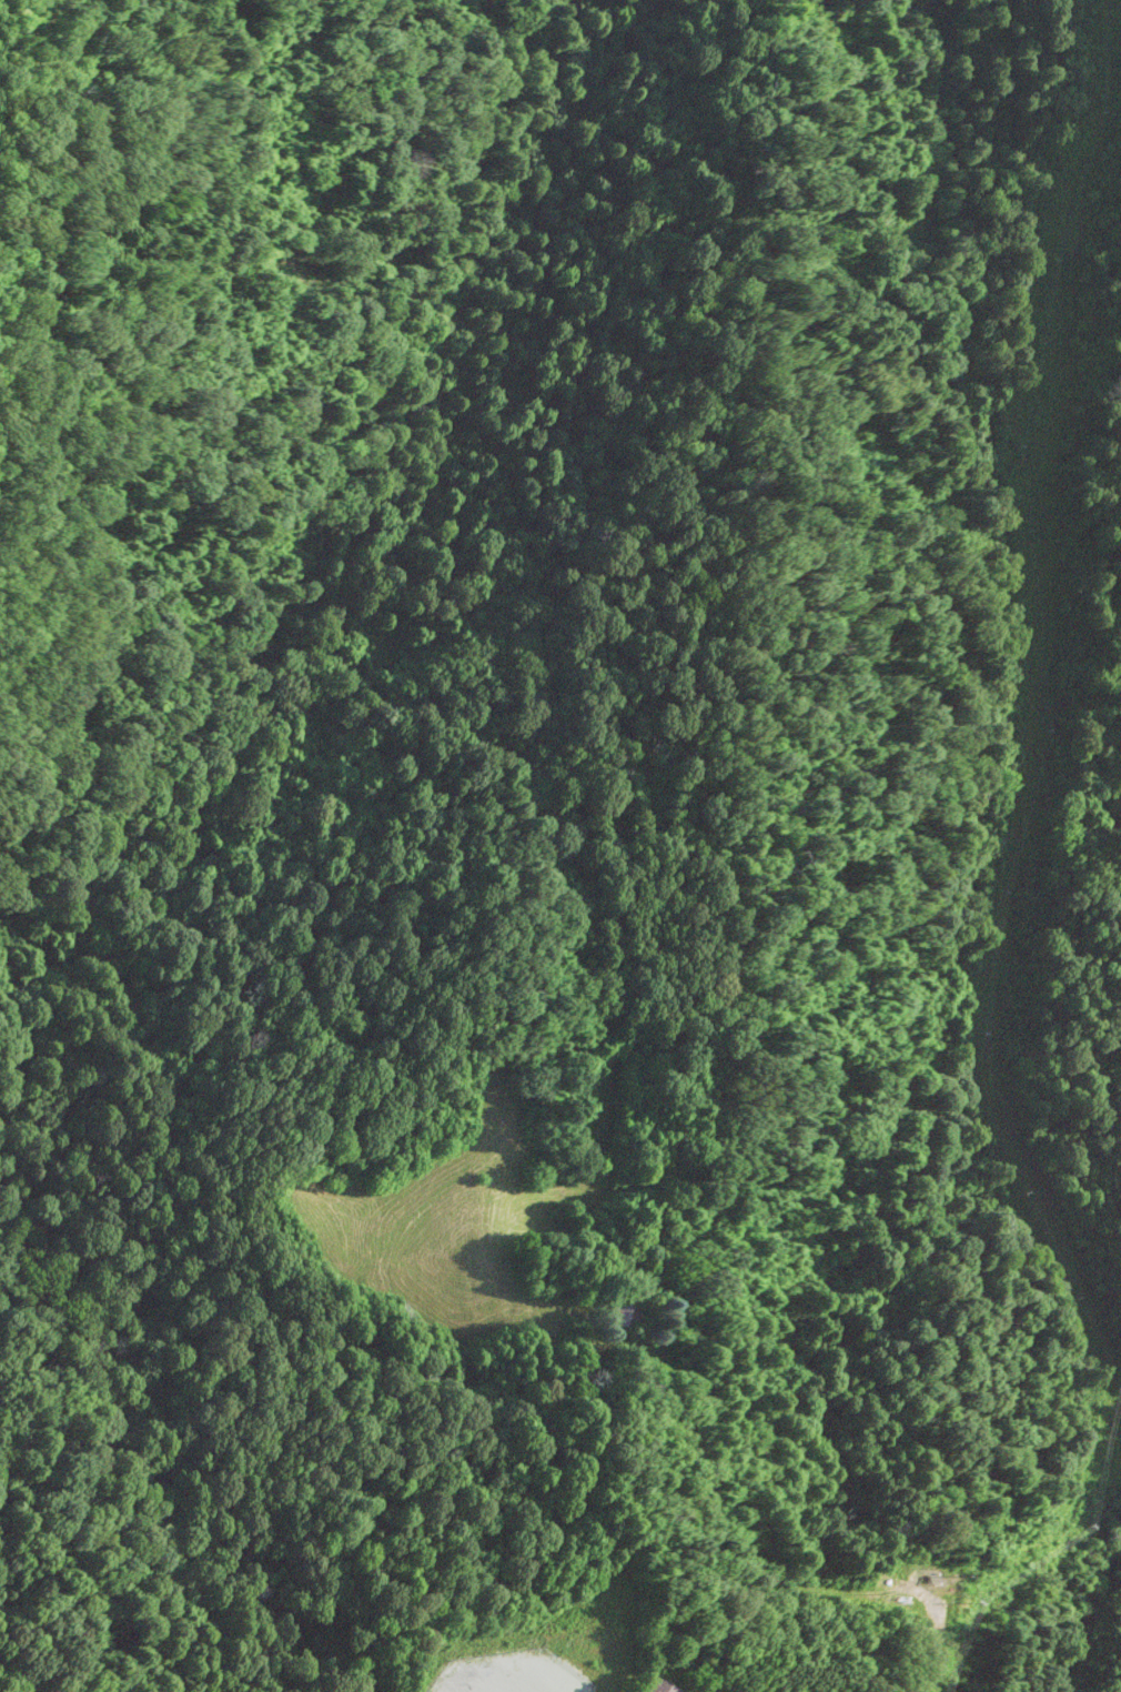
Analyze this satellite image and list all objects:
building: (155, 1290)
building: (620, 1318)
road: (937, 1631)
building: (653, 1686)

